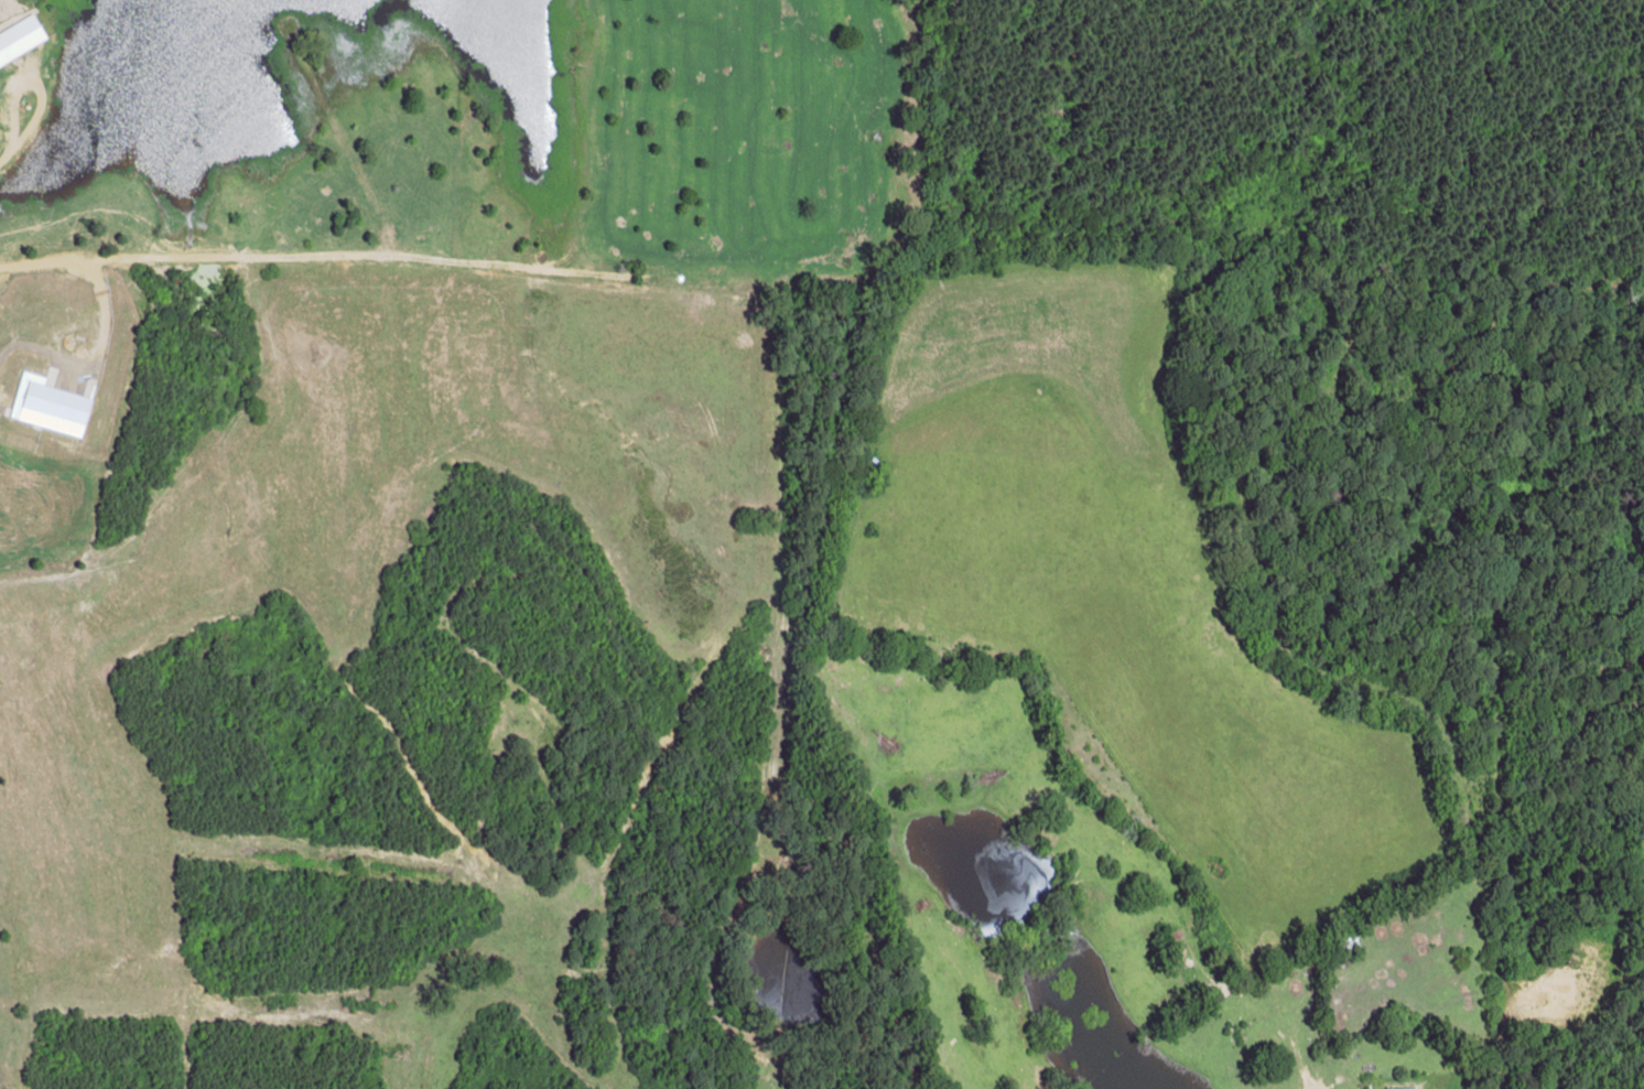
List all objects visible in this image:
building: (20, 36)
building: (48, 405)
building: (1400, 1088)

